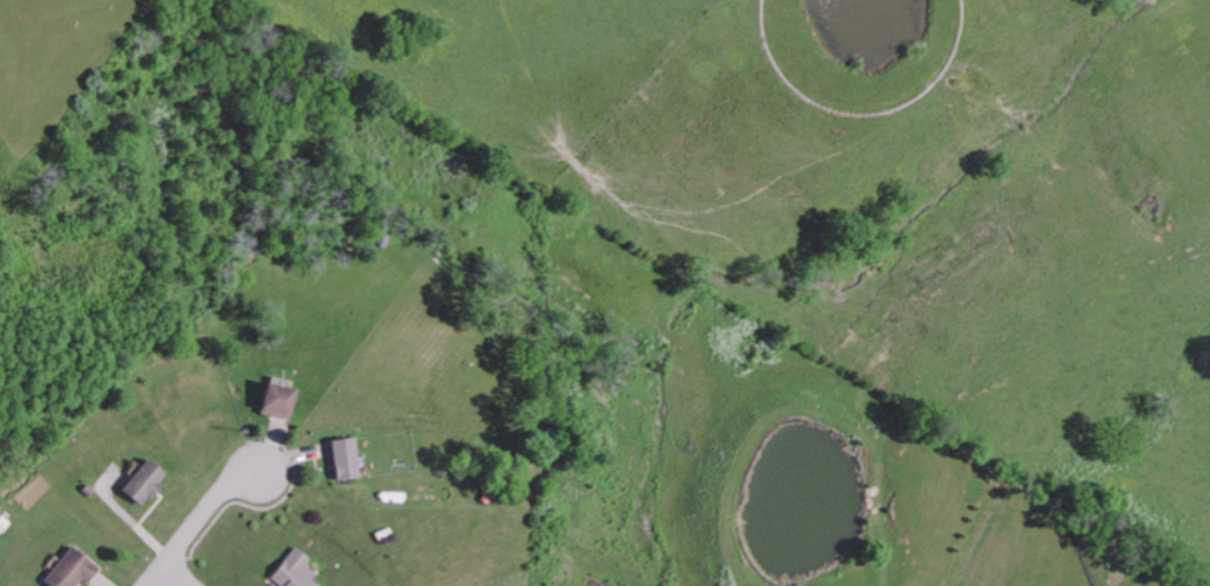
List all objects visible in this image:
building: (275, 399)
building: (341, 457)
building: (141, 482)
road: (199, 517)
building: (68, 569)
building: (293, 570)
road: (176, 575)

